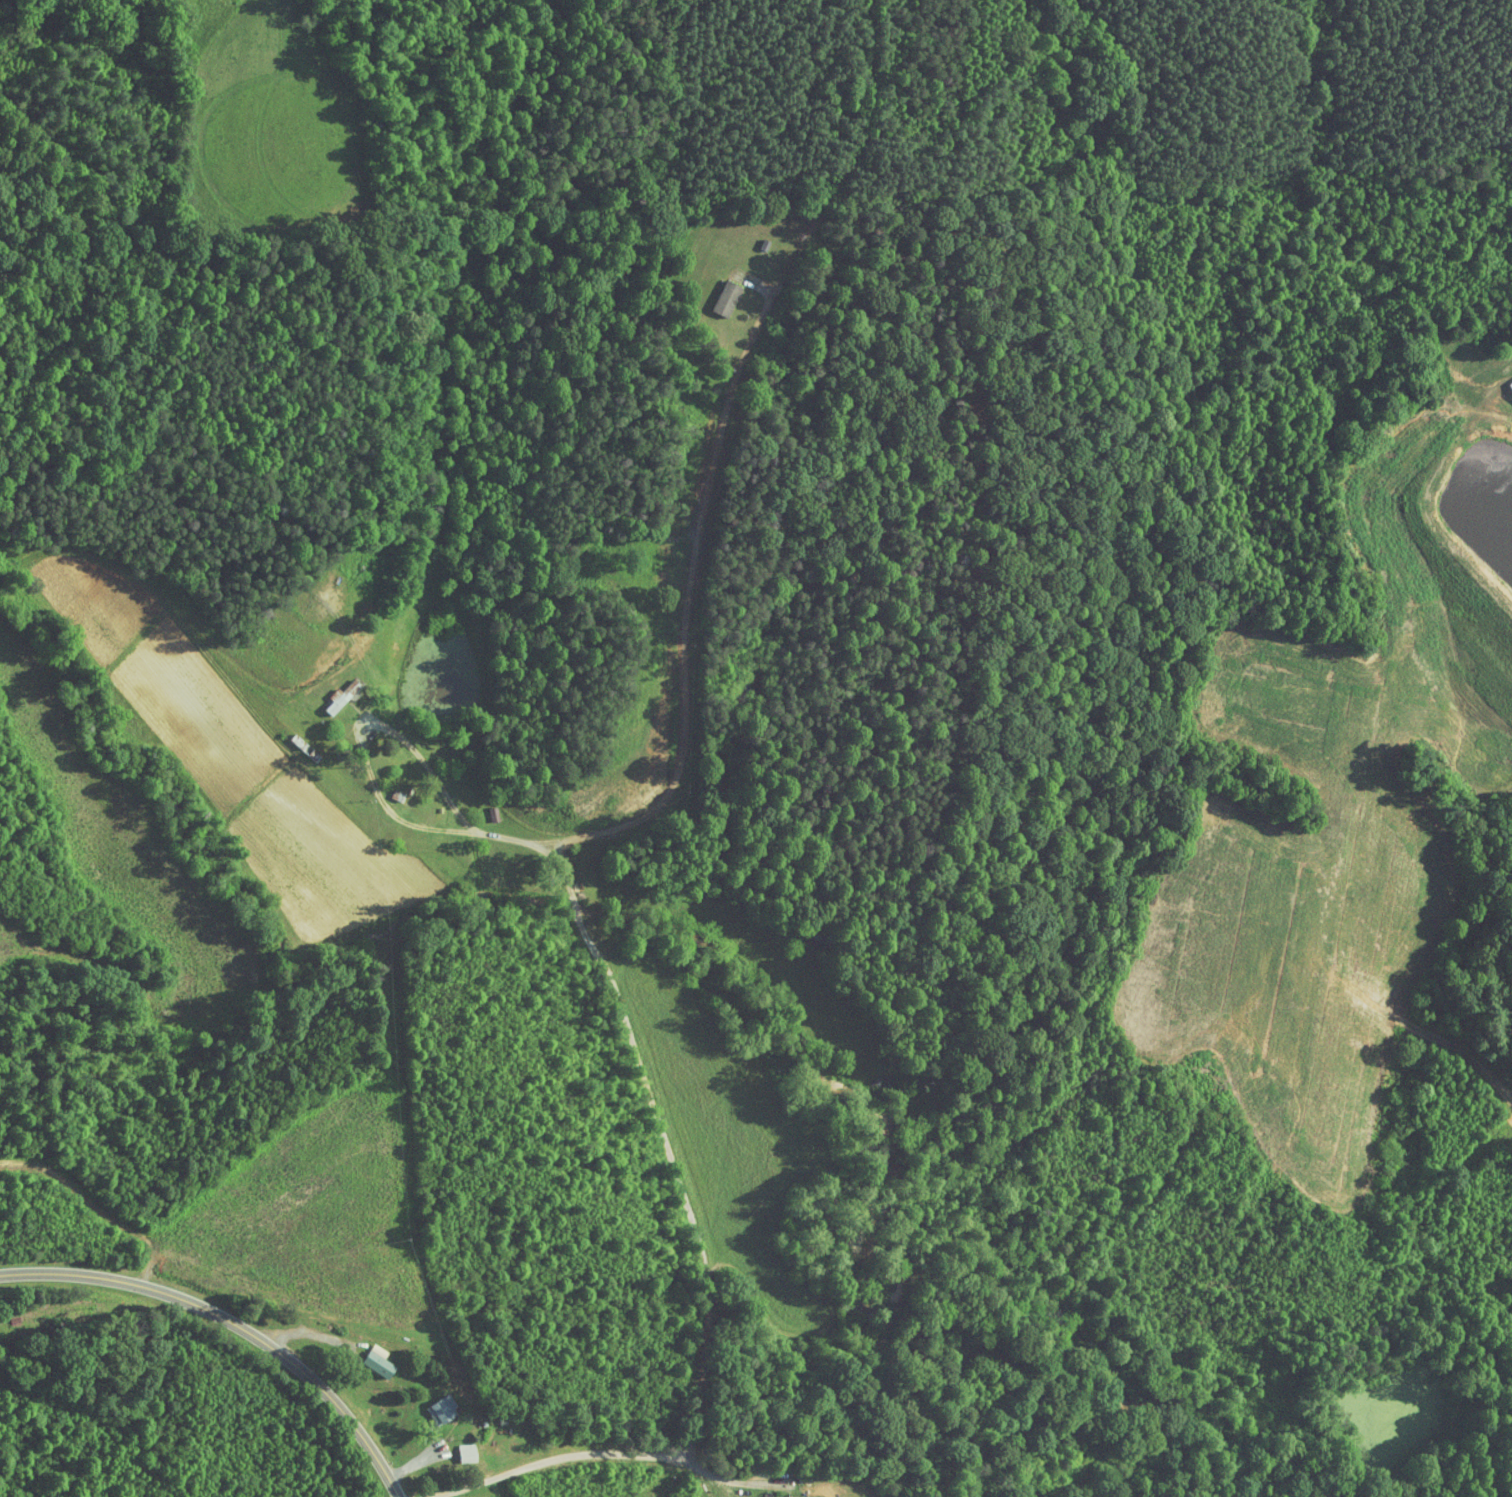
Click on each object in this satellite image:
building: (712, 292)
building: (1506, 380)
road: (695, 571)
building: (327, 691)
building: (865, 1077)
road: (669, 1163)
road: (232, 1324)
road: (303, 1334)
building: (364, 1354)
building: (428, 1403)
building: (453, 1446)
road: (401, 1458)
road: (715, 1473)

